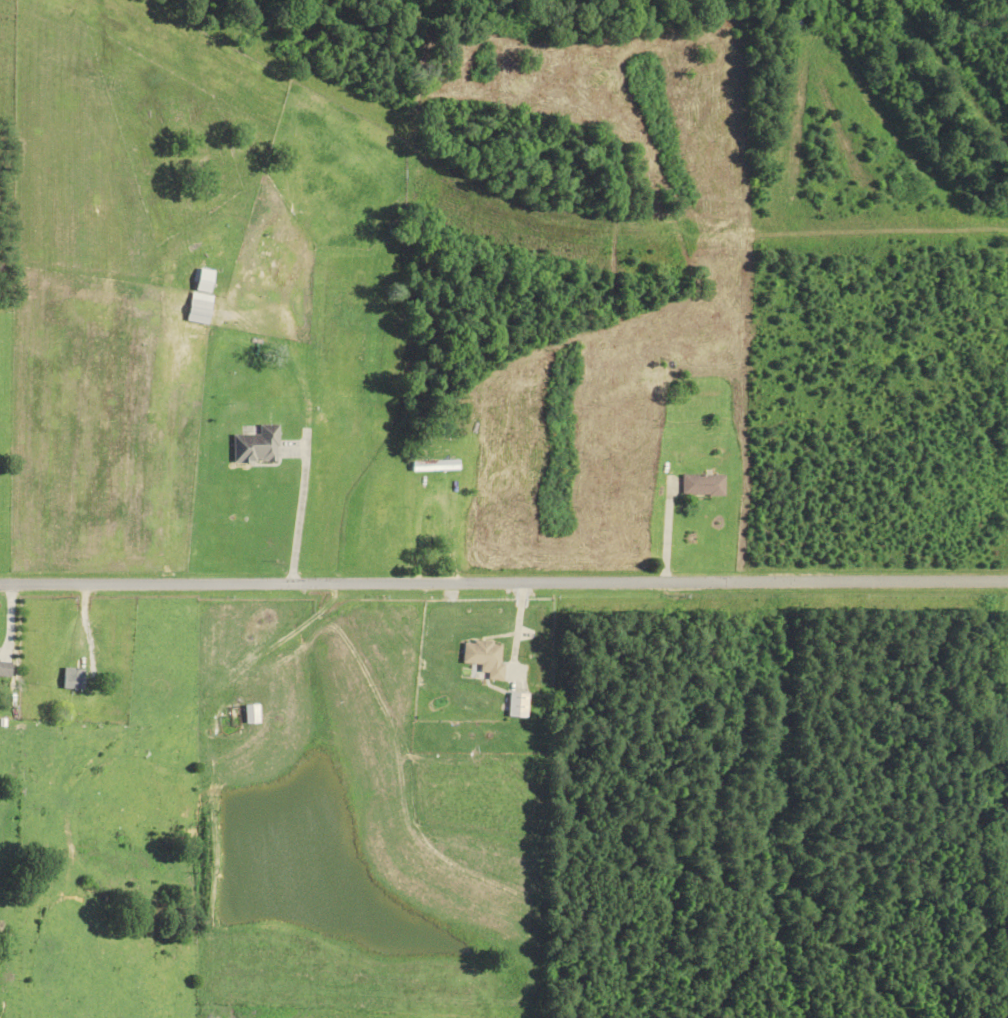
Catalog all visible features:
building: (197, 308)
building: (255, 445)
building: (434, 465)
building: (701, 485)
road: (299, 507)
road: (665, 531)
road: (504, 581)
building: (484, 657)
building: (1007, 659)
building: (73, 678)
building: (517, 704)
building: (251, 713)

